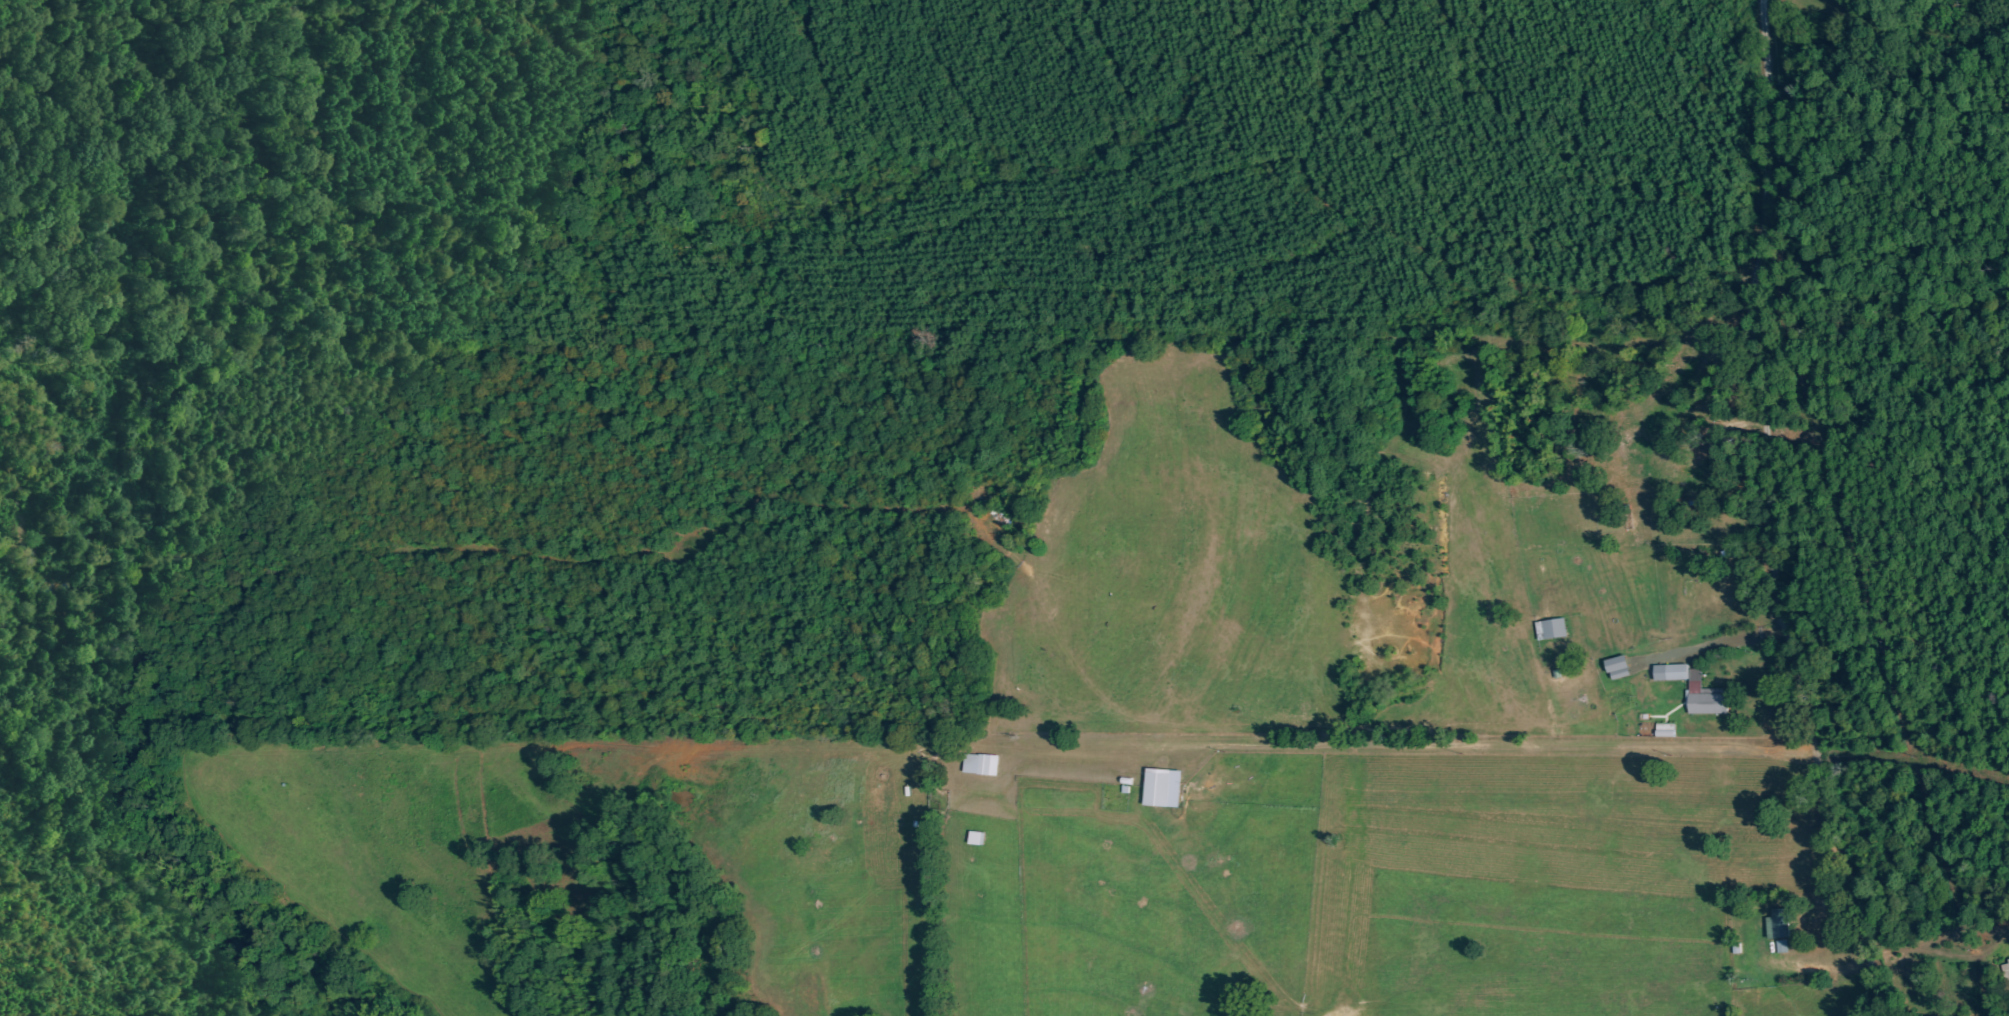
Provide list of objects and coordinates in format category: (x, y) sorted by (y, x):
road: (1744, 516)
building: (1553, 628)
building: (1622, 667)
building: (1698, 689)
building: (983, 764)
building: (1167, 787)
building: (1781, 923)
building: (1783, 946)
building: (2007, 970)

